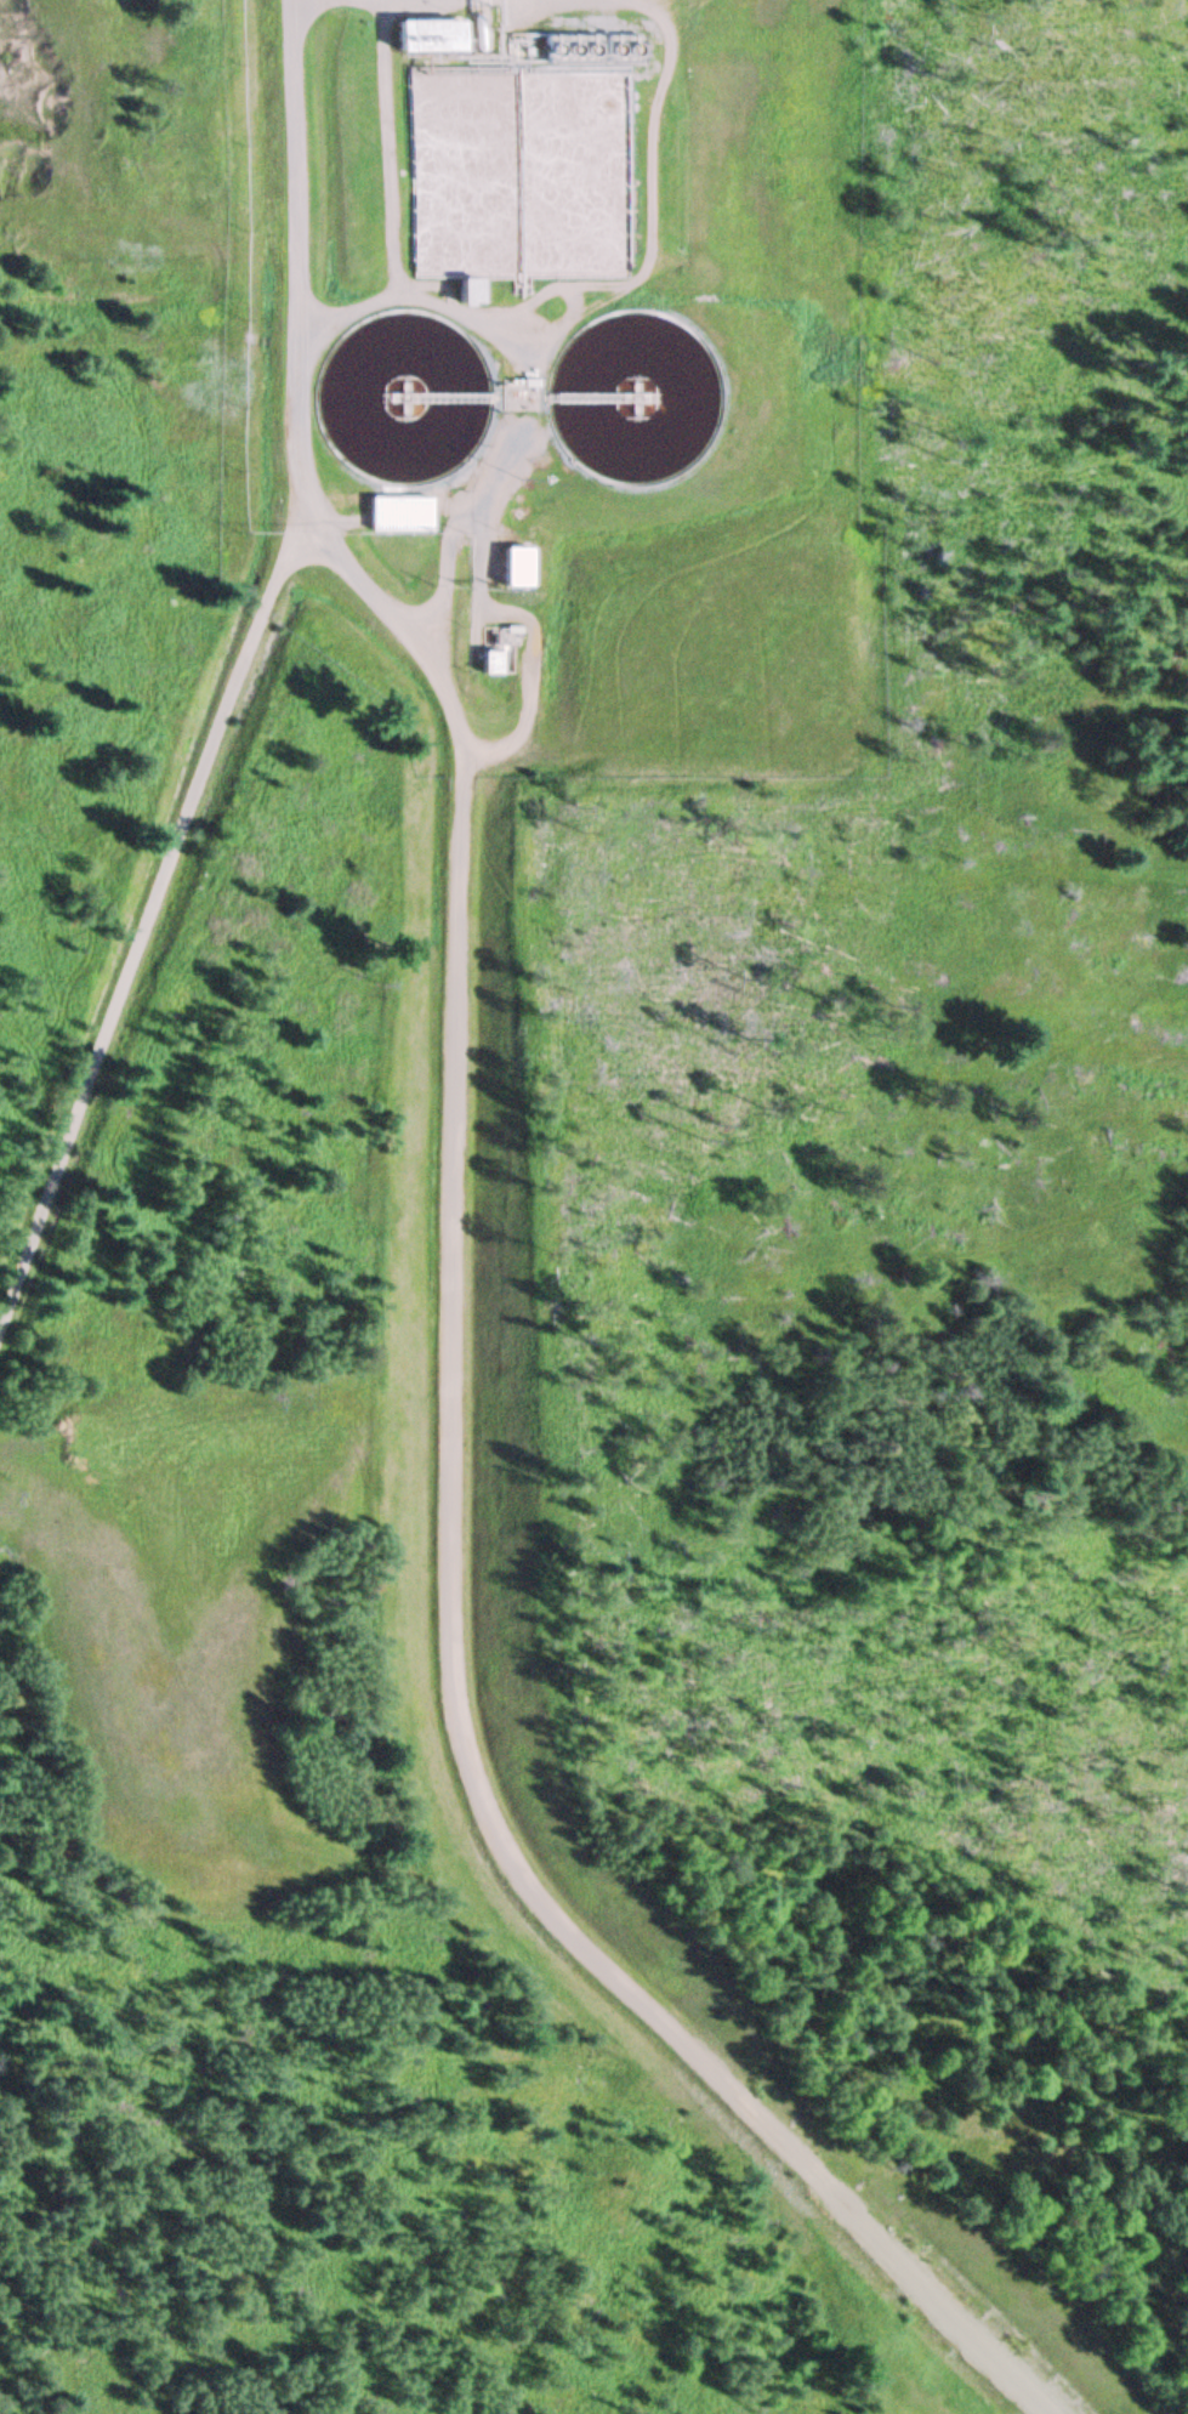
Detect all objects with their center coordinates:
building: (407, 40)
wastewater plant: (585, 376)
building: (388, 515)
building: (507, 567)
building: (481, 663)
road: (243, 695)
road: (459, 1516)

